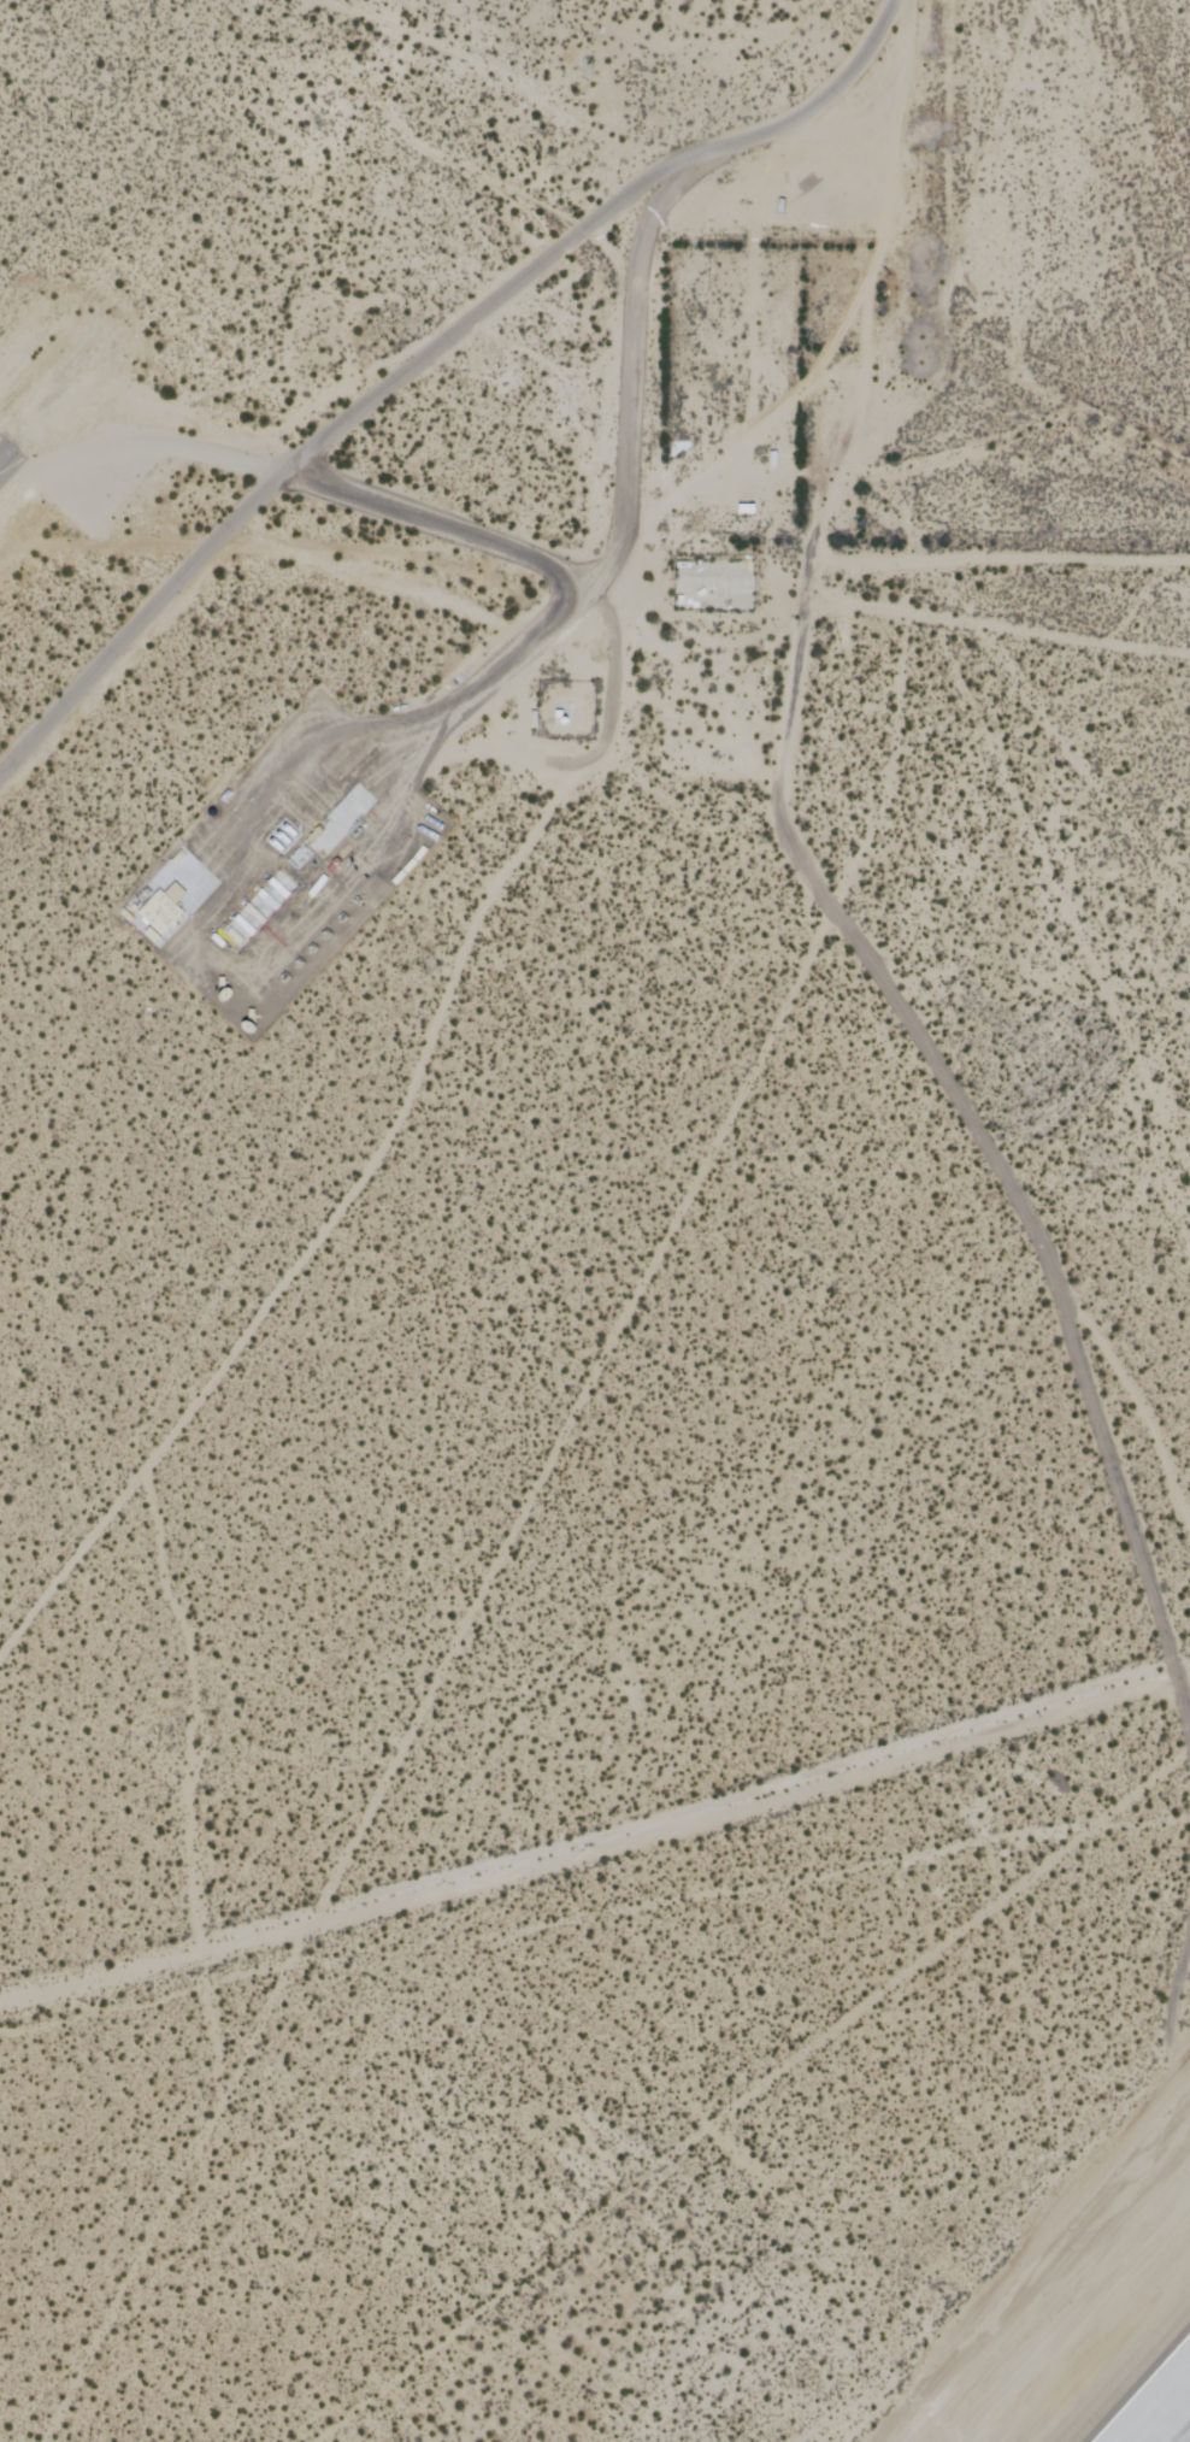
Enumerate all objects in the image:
road: (425, 353)
airport runway: (6, 451)
road: (440, 525)
building: (353, 758)
airport: (595, 1220)

